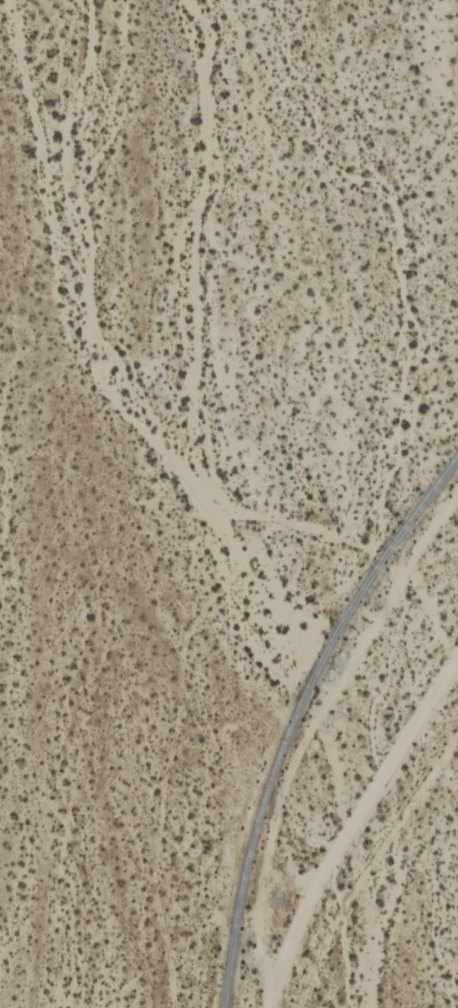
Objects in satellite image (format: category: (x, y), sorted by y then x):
railway: (294, 710)
road: (349, 823)

